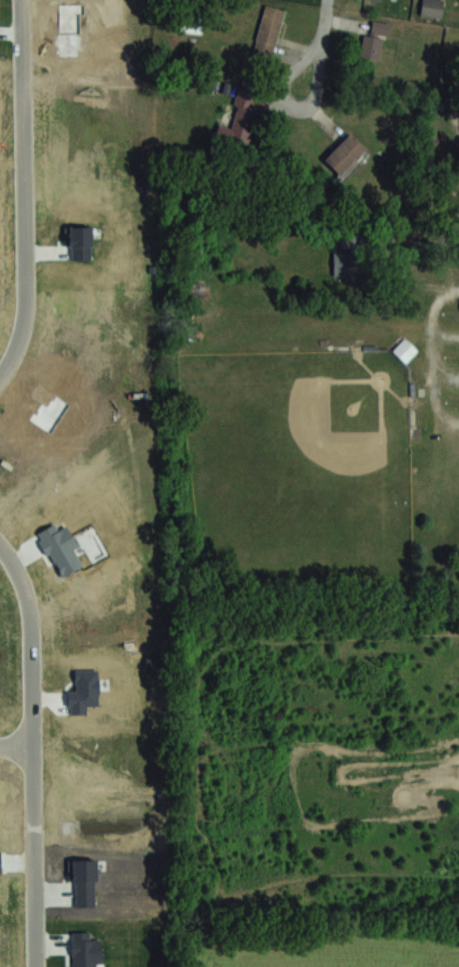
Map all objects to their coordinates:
building: (432, 8)
building: (268, 31)
building: (373, 39)
road: (322, 48)
building: (240, 119)
building: (345, 154)
road: (29, 193)
road: (442, 238)
building: (348, 264)
building: (405, 349)
park: (313, 446)
park: (299, 462)
road: (17, 743)
road: (35, 748)

